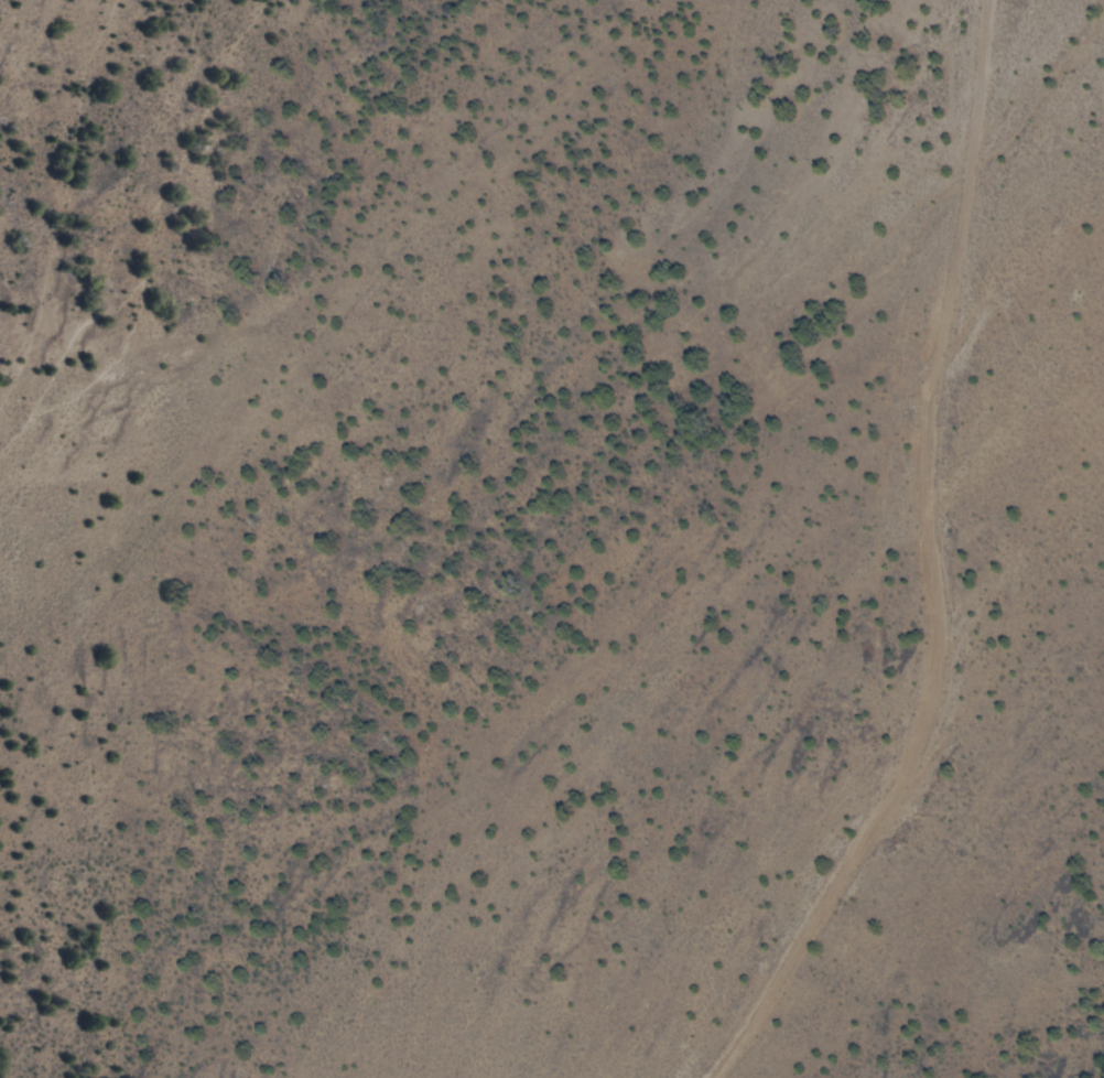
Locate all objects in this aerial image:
road: (937, 568)

